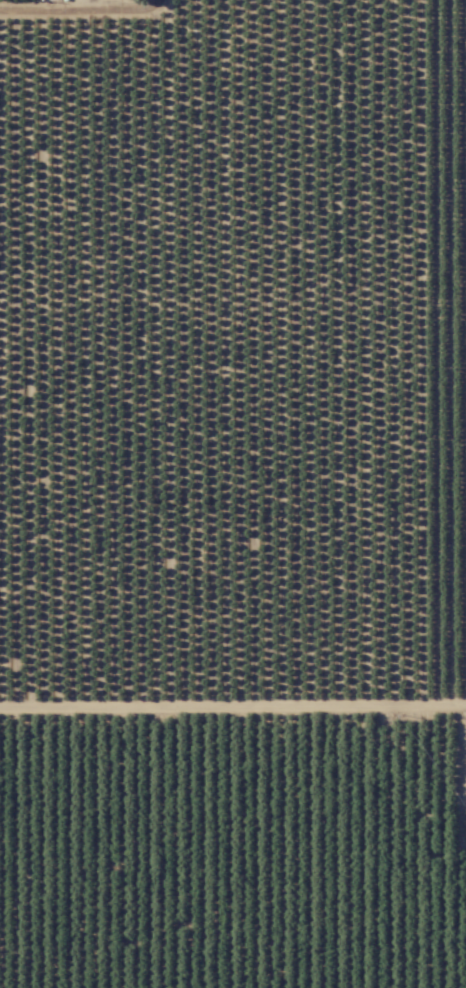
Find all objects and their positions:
road: (464, 750)

